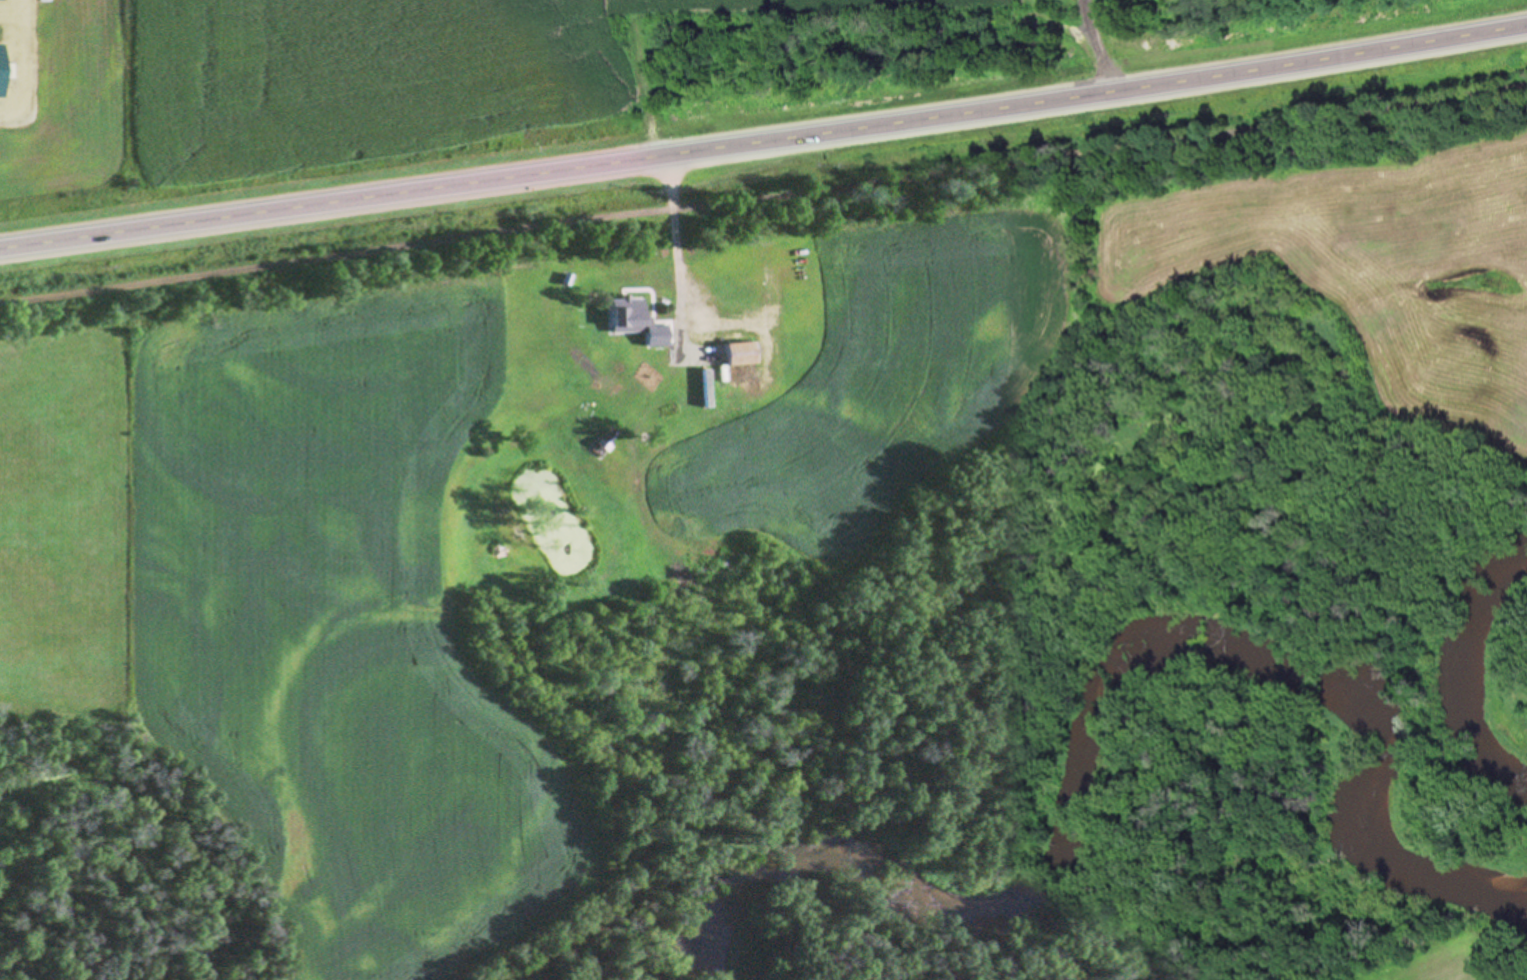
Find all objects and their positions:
road: (1095, 46)
road: (24, 66)
road: (640, 87)
road: (764, 140)
road: (763, 194)
road: (678, 249)
building: (628, 312)
building: (743, 347)
building: (768, 436)
building: (761, 452)
river: (1209, 651)
river: (1502, 651)
river: (923, 873)
river: (801, 887)

